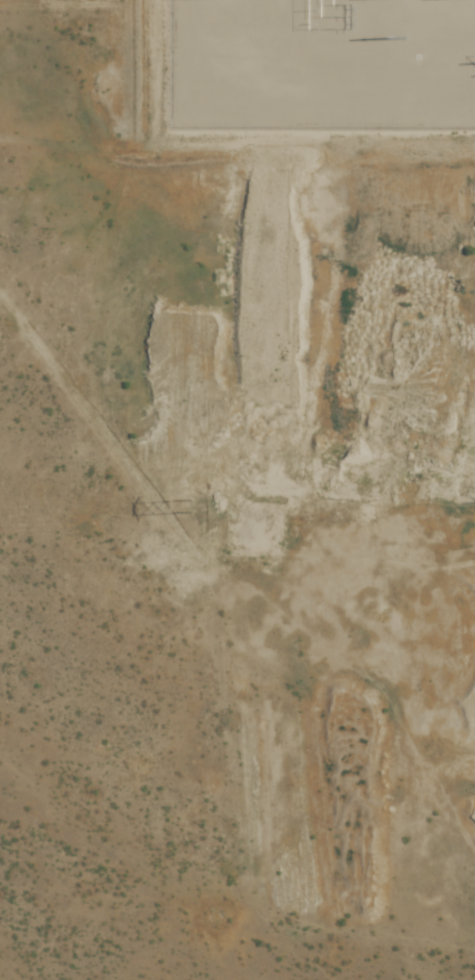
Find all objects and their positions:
power substation: (322, 63)

